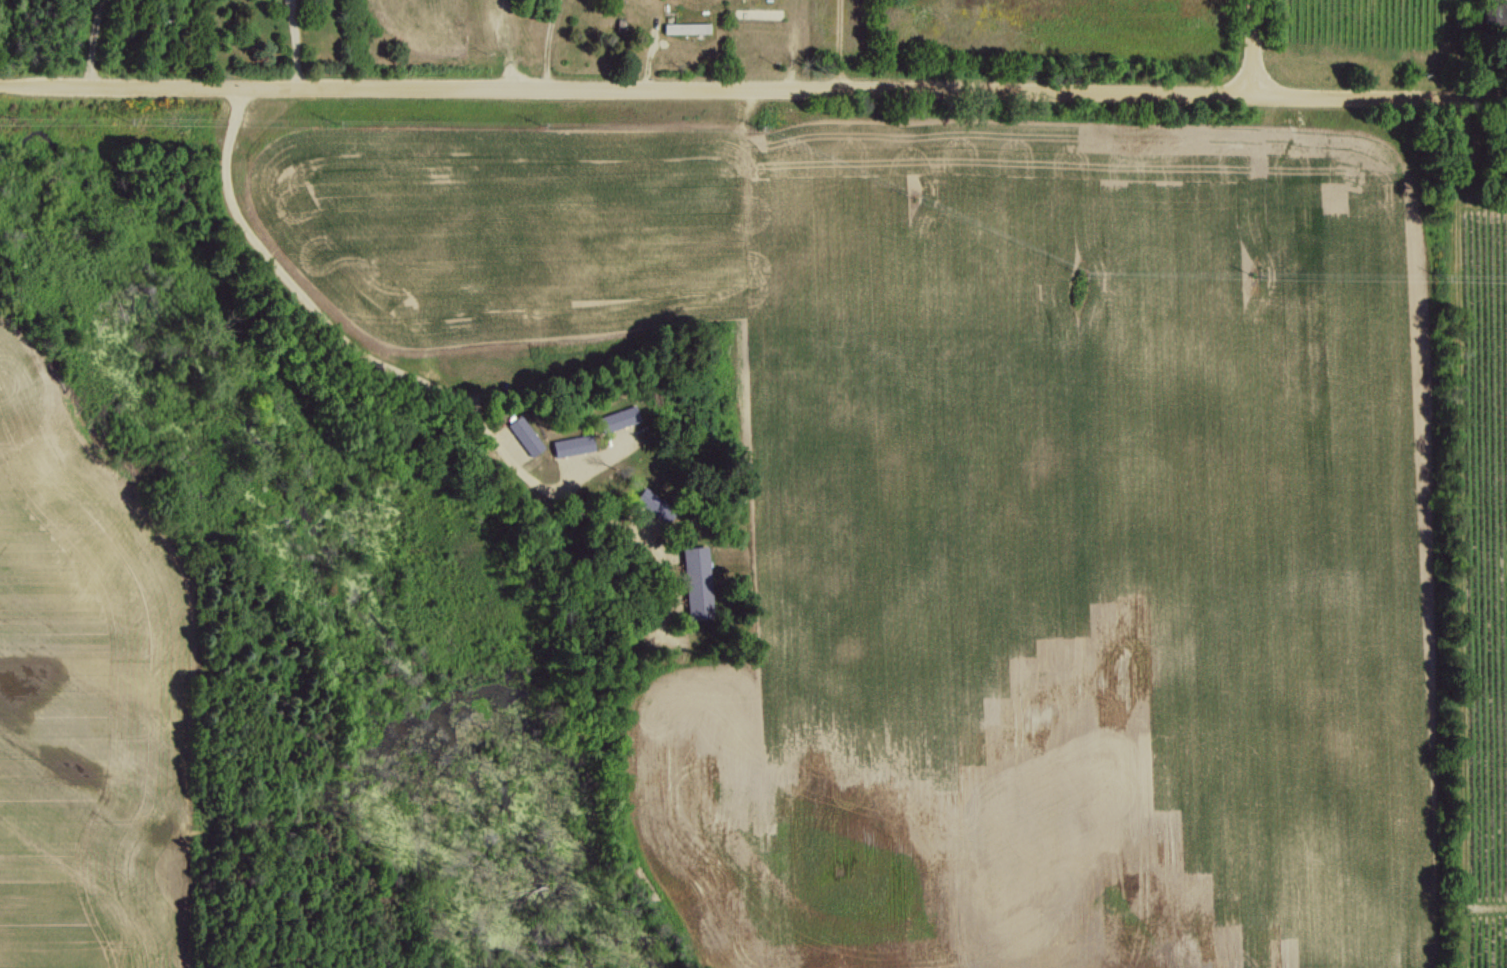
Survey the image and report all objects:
building: (684, 28)
road: (1255, 44)
road: (753, 85)
road: (284, 272)
building: (618, 418)
building: (524, 435)
building: (572, 445)
building: (649, 500)
building: (697, 582)

